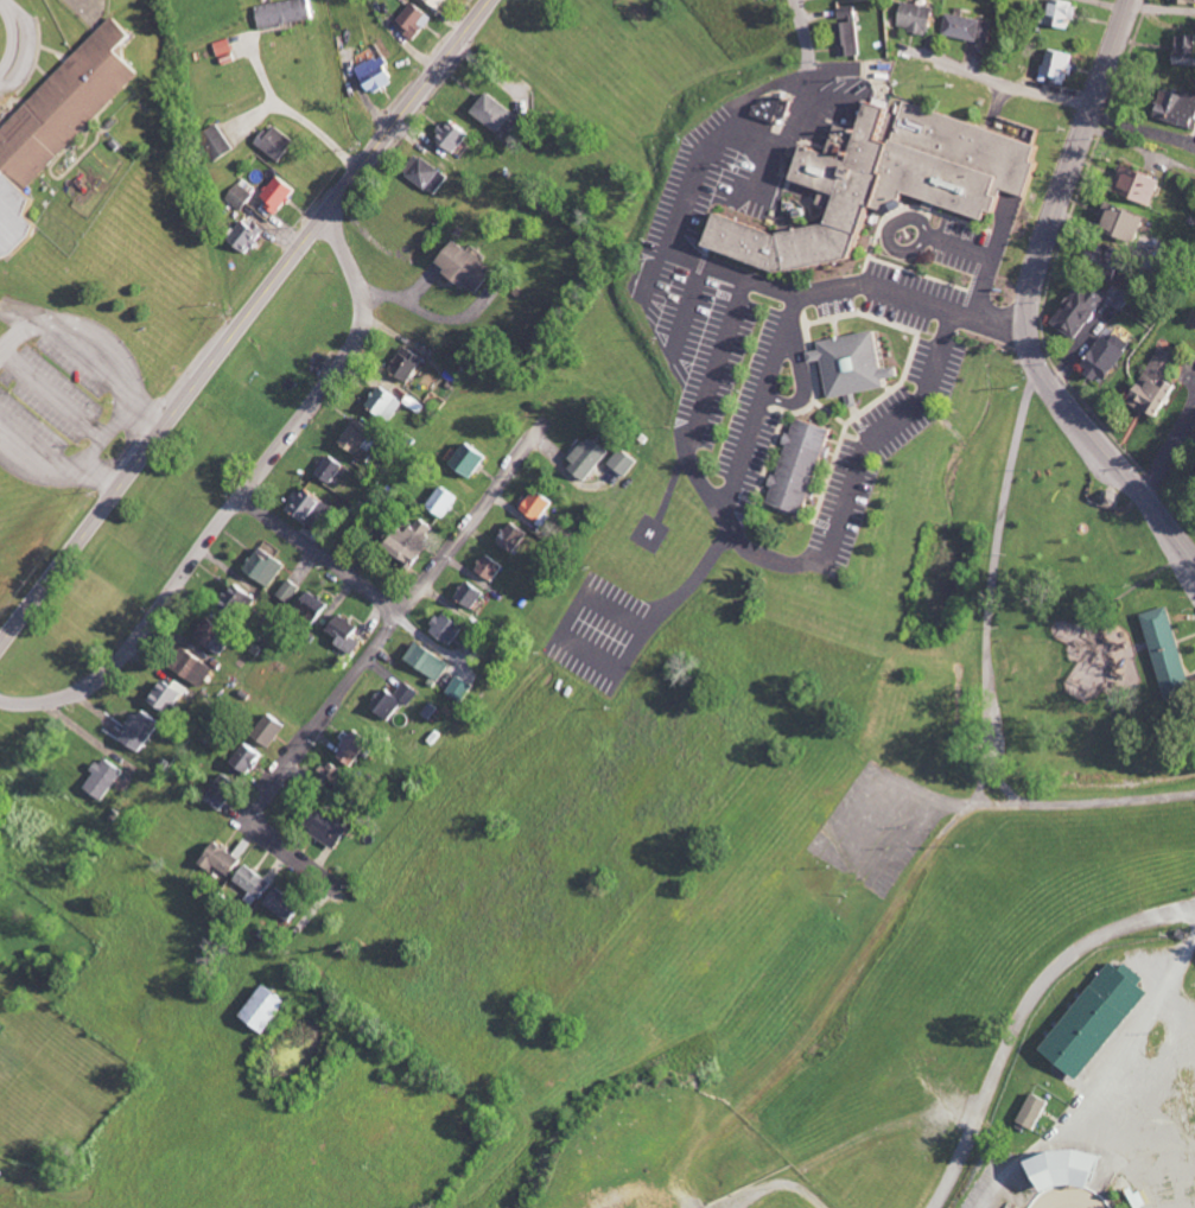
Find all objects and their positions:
building: (1180, 0)
building: (441, 4)
road: (1163, 6)
building: (288, 13)
building: (1057, 13)
building: (913, 17)
building: (419, 19)
road: (802, 27)
building: (967, 27)
building: (846, 31)
building: (1181, 45)
building: (1056, 66)
building: (380, 75)
road: (1026, 87)
building: (1177, 107)
building: (767, 108)
road: (291, 112)
building: (495, 112)
road: (729, 112)
road: (792, 128)
building: (59, 131)
building: (455, 134)
building: (223, 140)
building: (281, 142)
building: (428, 174)
building: (879, 182)
building: (1132, 185)
building: (282, 193)
building: (243, 196)
building: (1114, 223)
building: (250, 235)
road: (929, 240)
building: (469, 267)
road: (729, 268)
road: (1034, 295)
building: (1081, 305)
road: (951, 307)
road: (242, 320)
road: (98, 342)
building: (1100, 356)
building: (409, 364)
building: (847, 365)
building: (1149, 383)
road: (52, 390)
building: (387, 402)
road: (1188, 405)
road: (103, 435)
building: (361, 435)
road: (1167, 450)
road: (682, 456)
building: (591, 457)
building: (472, 458)
building: (625, 462)
building: (794, 468)
building: (332, 469)
road: (59, 471)
road: (846, 482)
road: (241, 497)
building: (445, 502)
building: (311, 503)
building: (539, 507)
building: (515, 536)
building: (412, 540)
road: (322, 553)
building: (267, 566)
building: (491, 567)
building: (290, 591)
building: (472, 595)
building: (237, 602)
building: (314, 606)
road: (396, 617)
building: (450, 628)
building: (347, 634)
building: (216, 637)
building: (1162, 648)
park: (1013, 653)
building: (431, 661)
building: (196, 668)
building: (463, 688)
building: (169, 695)
building: (396, 700)
building: (142, 730)
building: (273, 730)
building: (355, 746)
building: (250, 758)
building: (333, 775)
building: (107, 778)
building: (227, 791)
building: (330, 828)
building: (222, 859)
building: (254, 883)
building: (286, 904)
building: (272, 1010)
road: (1024, 1016)
building: (1091, 1018)
building: (1030, 1111)
building: (1055, 1169)
building: (2, 1171)

